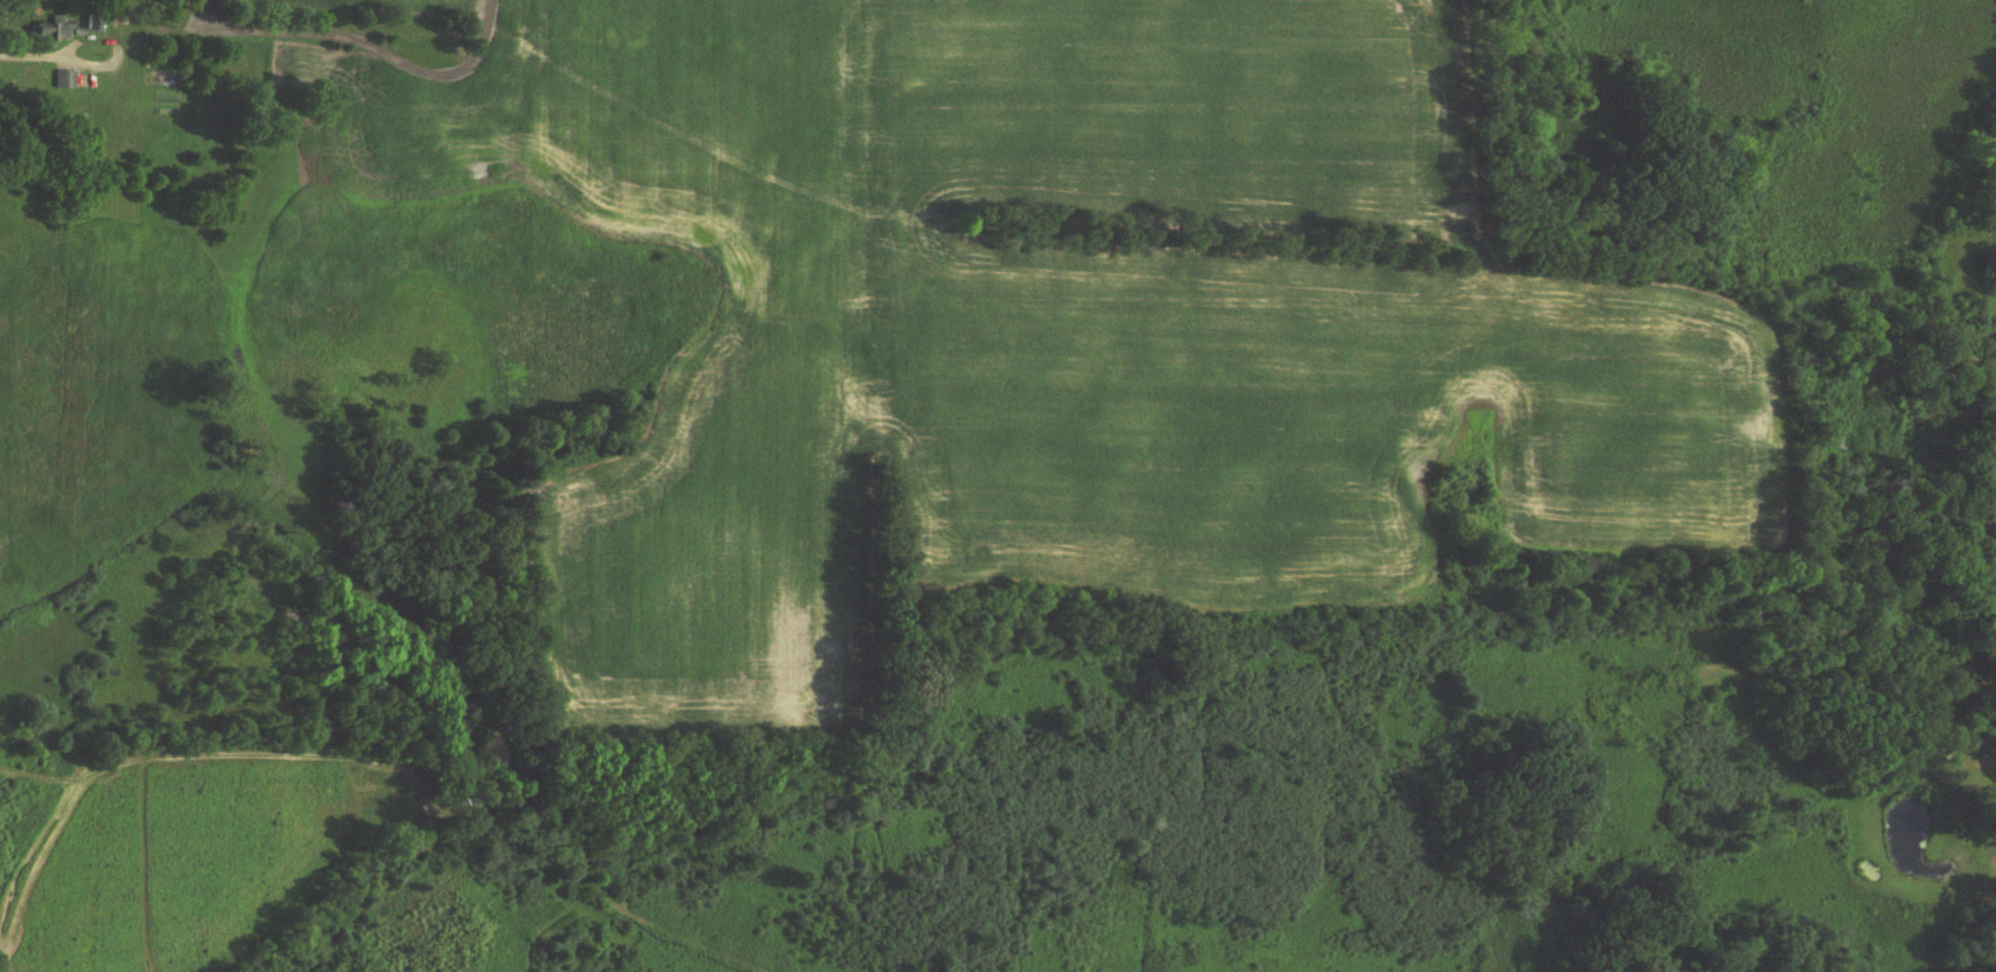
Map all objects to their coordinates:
building: (55, 30)
road: (117, 50)
road: (23, 55)
building: (67, 81)
building: (115, 119)

